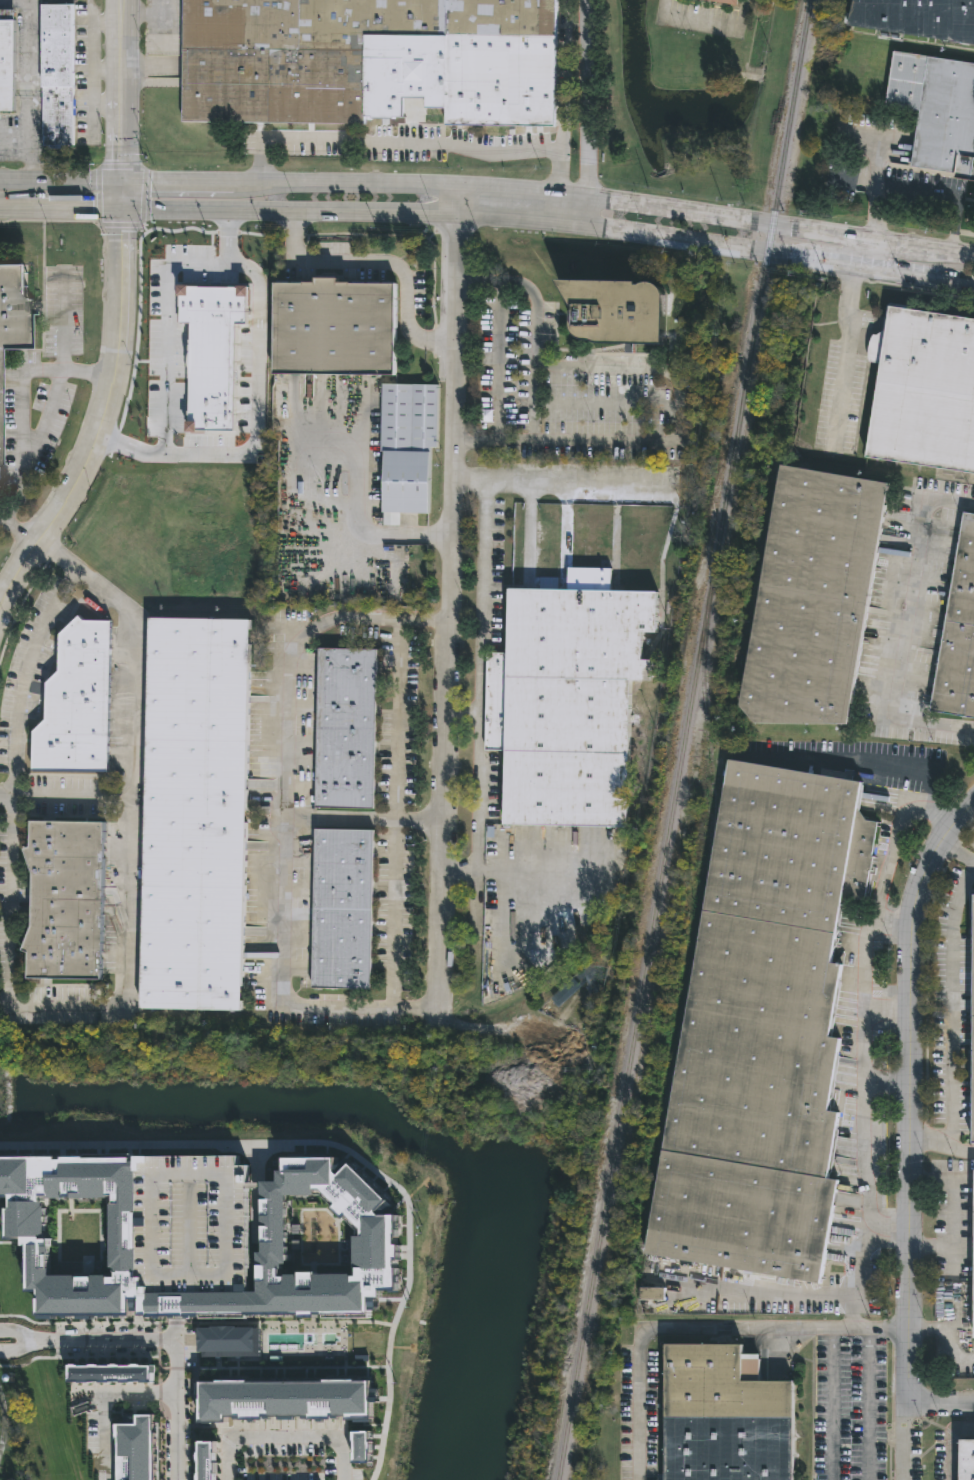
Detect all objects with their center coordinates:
building: (724, 2)
road: (121, 11)
building: (917, 17)
road: (707, 22)
road: (92, 29)
road: (121, 45)
building: (6, 61)
building: (368, 62)
road: (106, 68)
building: (56, 77)
road: (91, 104)
building: (936, 111)
road: (586, 115)
road: (28, 123)
road: (121, 126)
road: (29, 147)
road: (407, 148)
road: (60, 183)
traffic signals: (121, 185)
road: (878, 187)
road: (914, 189)
road: (548, 199)
road: (121, 200)
road: (4, 212)
road: (15, 213)
road: (71, 214)
traffic signals: (121, 215)
road: (549, 227)
road: (861, 251)
road: (387, 262)
road: (478, 278)
building: (11, 308)
building: (615, 309)
road: (165, 330)
building: (331, 330)
road: (62, 349)
road: (842, 360)
building: (924, 392)
road: (257, 403)
building: (407, 416)
road: (533, 423)
road: (22, 427)
road: (102, 427)
road: (515, 441)
building: (405, 483)
road: (574, 487)
road: (360, 529)
road: (18, 533)
road: (451, 597)
building: (810, 600)
road: (908, 624)
building: (958, 634)
road: (481, 683)
building: (566, 700)
building: (74, 705)
building: (345, 730)
railway: (681, 739)
road: (868, 764)
road: (5, 791)
road: (70, 793)
road: (396, 813)
road: (284, 815)
building: (193, 816)
road: (363, 820)
road: (893, 843)
road: (957, 851)
railway: (702, 855)
road: (527, 858)
building: (63, 902)
building: (342, 910)
road: (867, 943)
building: (567, 992)
road: (3, 1006)
road: (951, 1008)
road: (99, 1009)
building: (973, 1021)
building: (761, 1032)
road: (866, 1120)
road: (911, 1130)
road: (140, 1145)
road: (942, 1146)
road: (953, 1191)
road: (256, 1195)
building: (193, 1224)
parking lot: (193, 1224)
building: (28, 1234)
road: (946, 1246)
building: (973, 1265)
road: (408, 1270)
road: (799, 1292)
building: (651, 1295)
road: (177, 1301)
road: (176, 1326)
road: (661, 1328)
road: (871, 1328)
road: (951, 1333)
road: (88, 1341)
building: (229, 1341)
building: (109, 1373)
road: (124, 1392)
building: (284, 1398)
road: (942, 1402)
road: (832, 1404)
road: (869, 1404)
road: (176, 1410)
building: (722, 1417)
road: (103, 1429)
road: (285, 1437)
building: (360, 1447)
building: (135, 1449)
building: (965, 1460)
building: (207, 1461)

